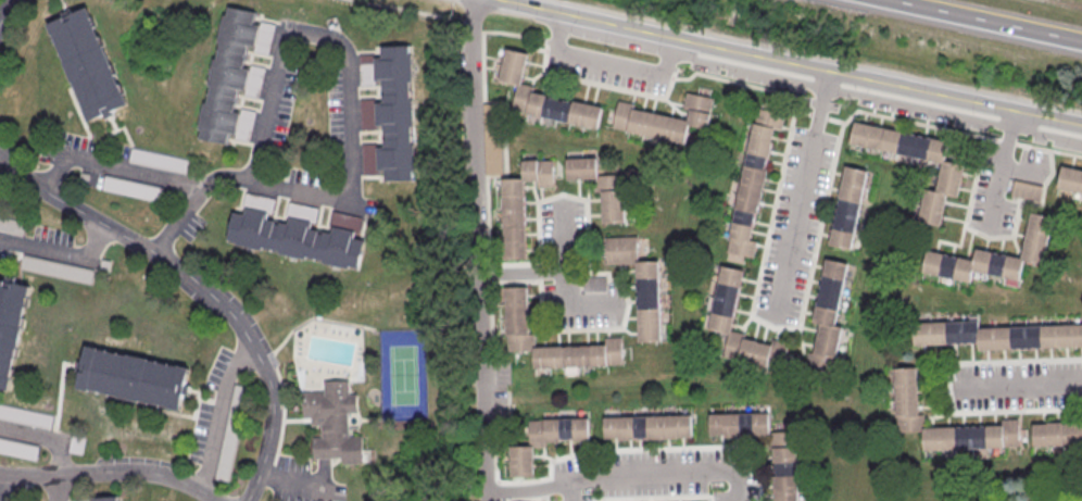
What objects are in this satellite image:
road: (4, 9)
road: (987, 20)
road: (605, 62)
road: (790, 65)
building: (87, 66)
road: (703, 75)
building: (227, 76)
building: (542, 98)
road: (873, 99)
building: (394, 114)
building: (662, 120)
road: (2, 162)
building: (158, 162)
road: (113, 167)
road: (998, 171)
building: (948, 177)
building: (1070, 180)
building: (751, 185)
parking lot: (1001, 186)
building: (599, 188)
building: (130, 189)
building: (1024, 191)
road: (797, 197)
road: (191, 199)
road: (331, 199)
building: (519, 205)
building: (846, 208)
parking lot: (792, 226)
building: (11, 227)
road: (996, 237)
building: (294, 240)
road: (477, 250)
road: (61, 251)
building: (994, 256)
parking lot: (562, 262)
building: (55, 270)
road: (520, 272)
road: (563, 279)
building: (593, 285)
road: (199, 286)
building: (638, 286)
building: (724, 301)
building: (515, 311)
building: (826, 317)
building: (10, 327)
road: (769, 327)
building: (996, 337)
park: (403, 375)
building: (131, 379)
road: (944, 385)
parking lot: (1015, 385)
road: (1017, 386)
building: (904, 392)
road: (218, 414)
building: (24, 417)
building: (336, 424)
building: (647, 428)
building: (228, 434)
building: (1056, 435)
road: (43, 439)
building: (544, 441)
building: (17, 449)
road: (110, 472)
road: (654, 473)
parking lot: (654, 475)
building: (782, 476)
road: (292, 481)
road: (55, 488)
road: (526, 489)
road: (0, 499)
building: (102, 499)

